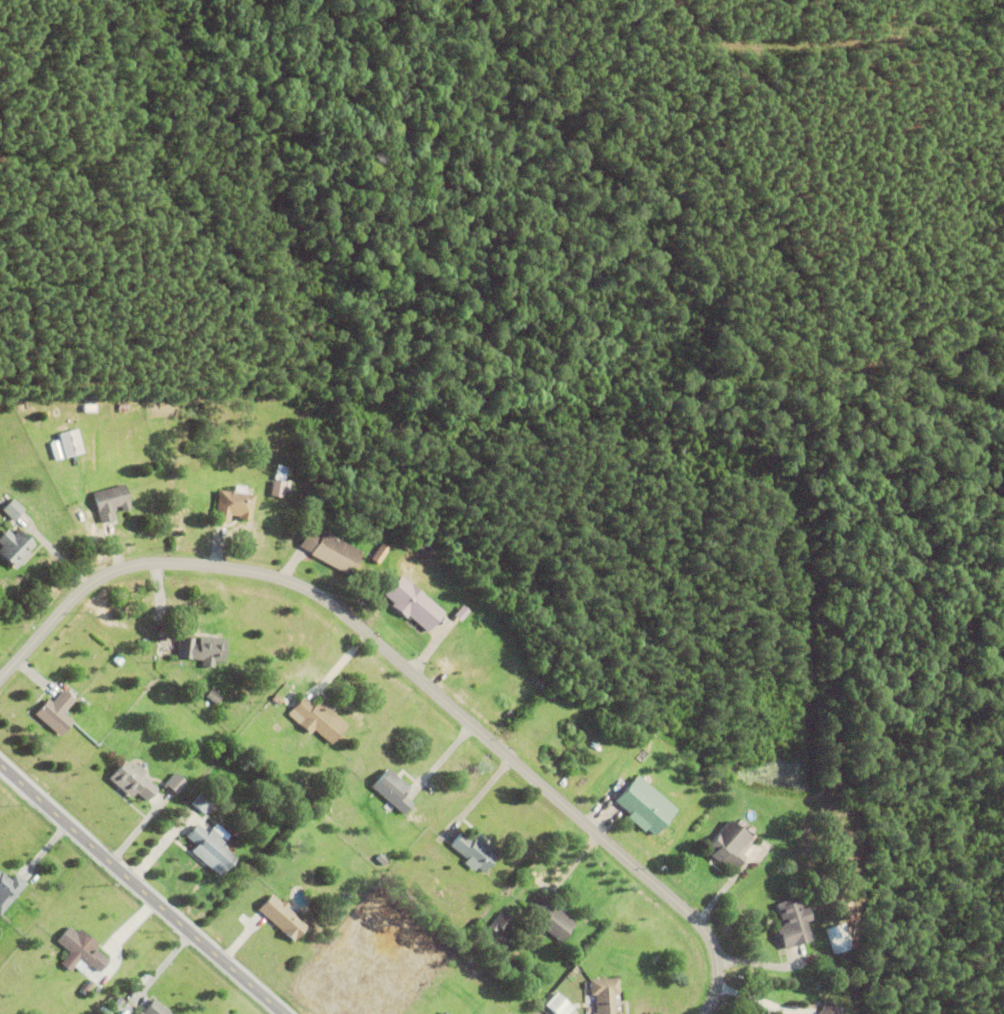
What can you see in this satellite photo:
building: (122, 407)
building: (70, 441)
building: (279, 475)
building: (273, 489)
building: (111, 500)
building: (233, 504)
building: (12, 508)
building: (15, 546)
building: (330, 549)
building: (375, 556)
building: (411, 602)
building: (202, 648)
building: (118, 659)
road: (409, 667)
building: (214, 696)
building: (277, 699)
building: (291, 699)
building: (56, 712)
building: (317, 718)
building: (133, 780)
building: (176, 782)
building: (393, 789)
building: (204, 800)
building: (639, 804)
building: (730, 847)
building: (211, 848)
building: (474, 851)
building: (382, 858)
building: (498, 866)
building: (9, 889)
road: (143, 889)
building: (283, 916)
building: (493, 916)
building: (552, 919)
building: (503, 921)
building: (793, 922)
building: (839, 937)
building: (83, 948)
building: (605, 994)
building: (807, 998)
building: (155, 1008)
building: (554, 1008)
building: (831, 1009)
building: (441, 1012)
building: (452, 1012)
building: (444, 1013)

